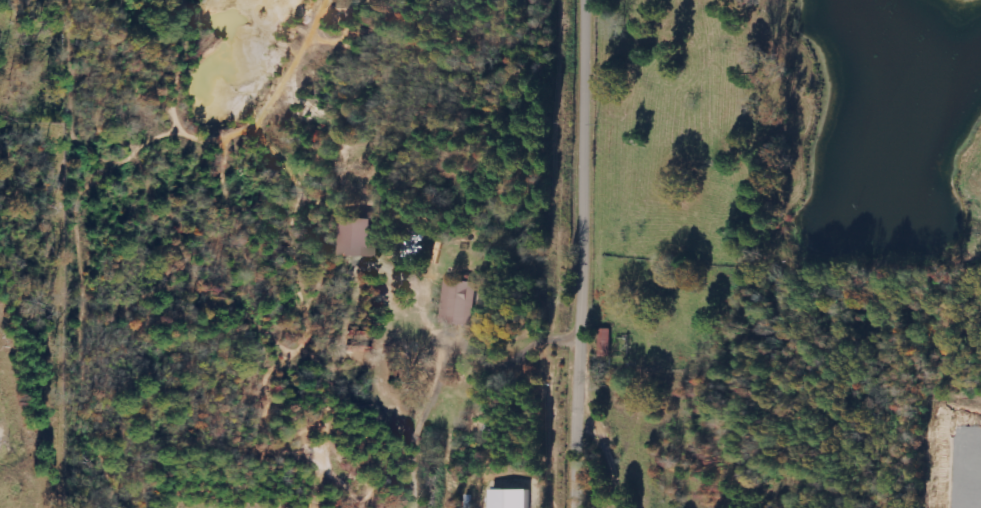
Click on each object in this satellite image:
building: (357, 238)
road: (591, 254)
building: (460, 302)
road: (444, 350)
building: (509, 498)

